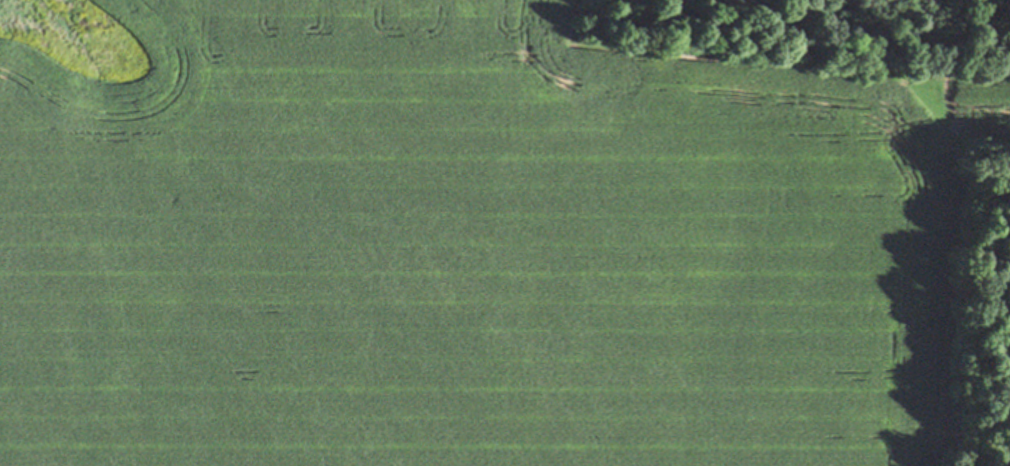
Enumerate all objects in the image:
crop: (472, 242)

